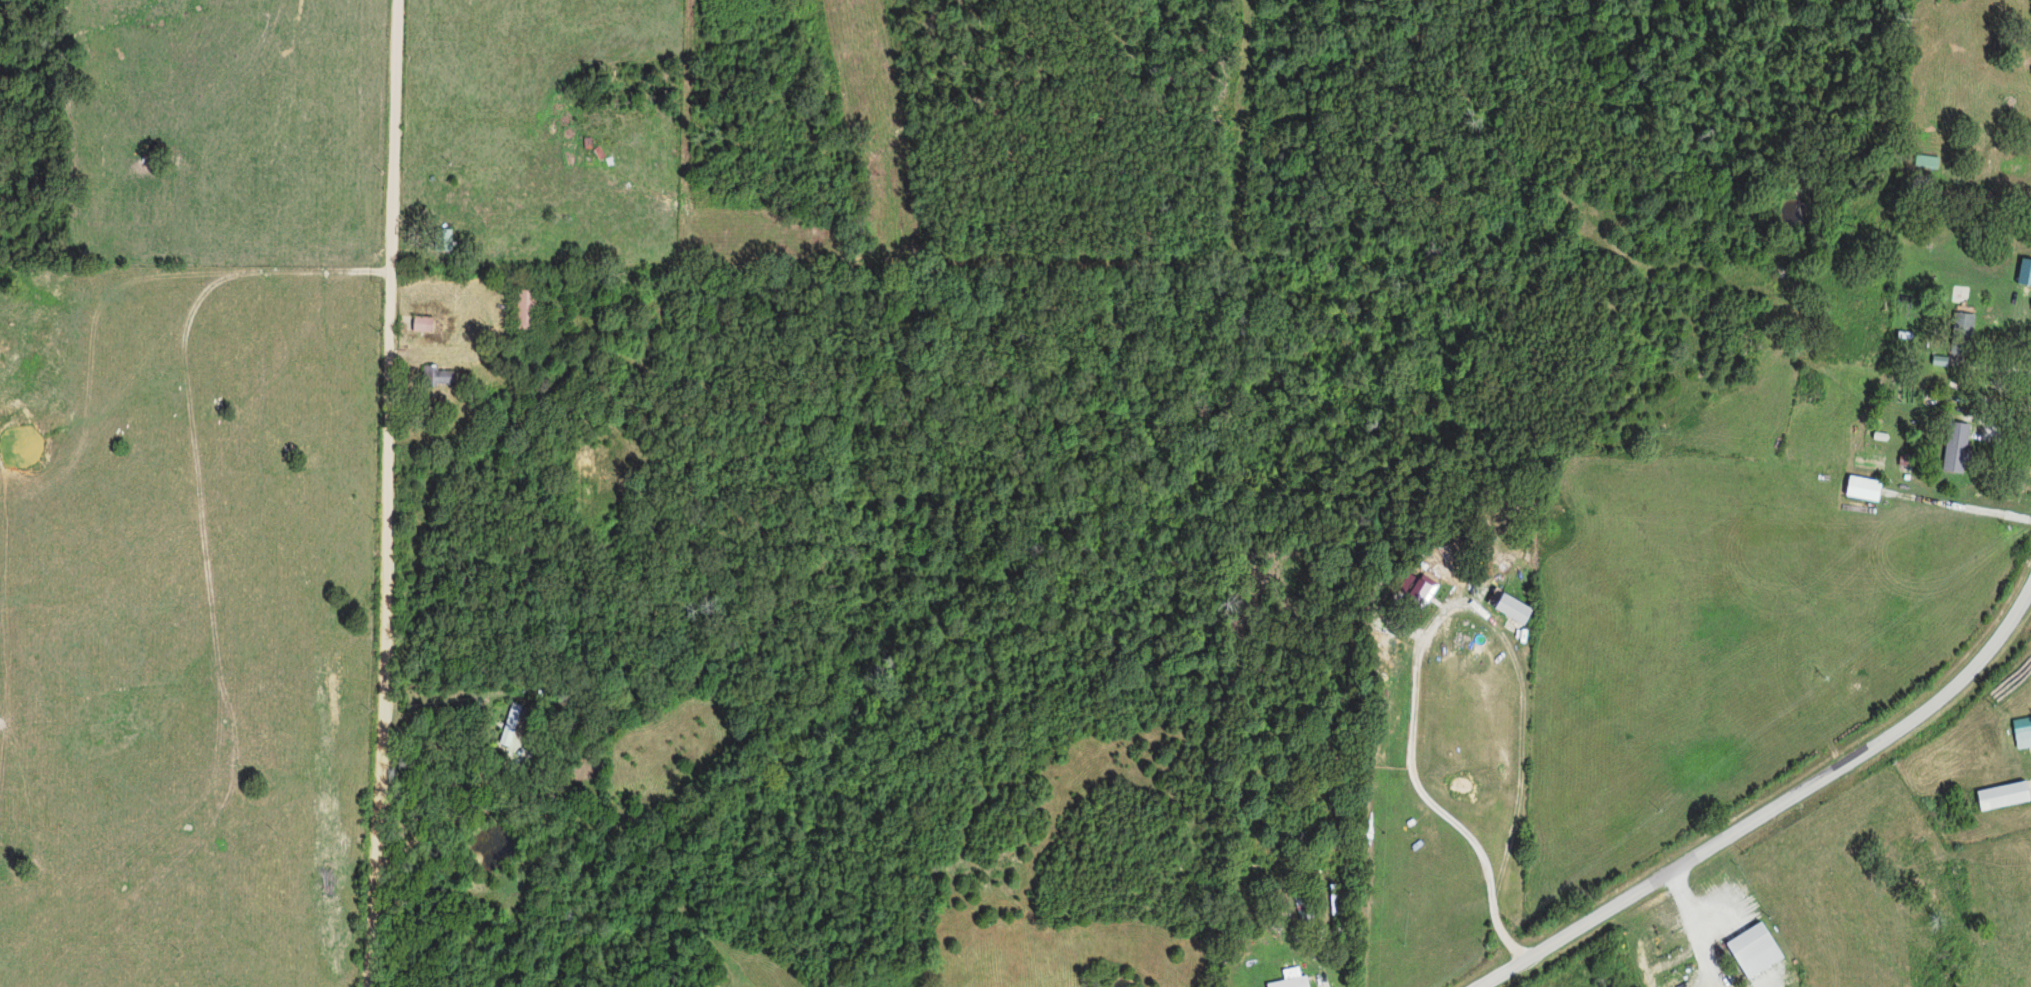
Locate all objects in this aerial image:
building: (1925, 162)
building: (2024, 273)
building: (1962, 324)
building: (434, 377)
road: (453, 377)
building: (1954, 448)
building: (1861, 489)
road: (379, 493)
road: (1960, 507)
building: (1420, 592)
building: (1510, 610)
building: (1385, 641)
building: (512, 725)
building: (2022, 733)
building: (2001, 795)
road: (1772, 807)
road: (1691, 929)
building: (1752, 949)
building: (1289, 979)

